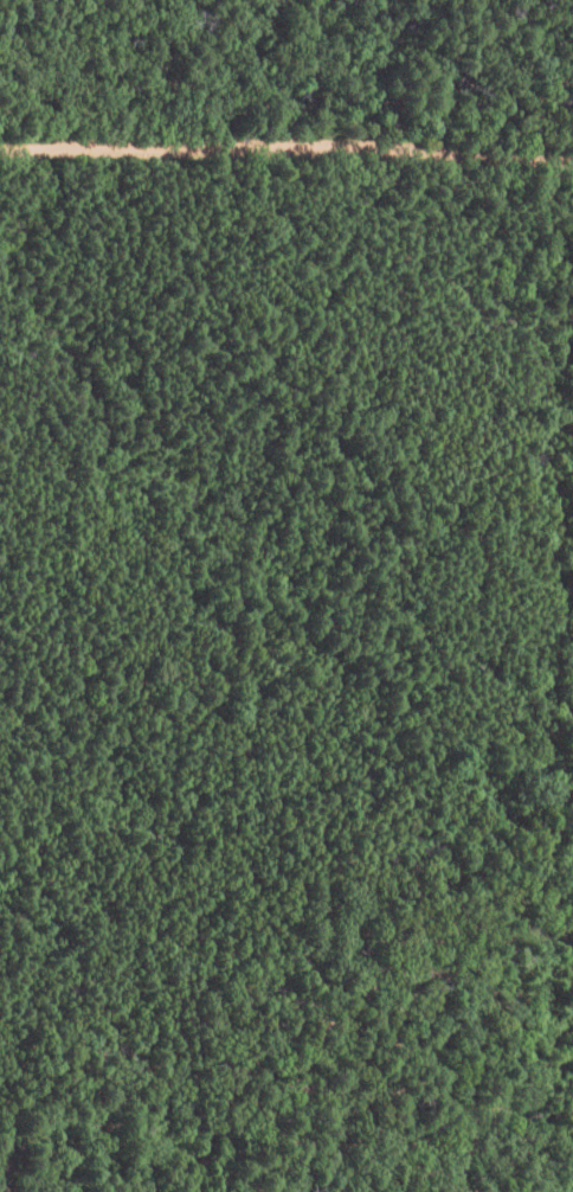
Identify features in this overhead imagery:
road: (285, 145)

